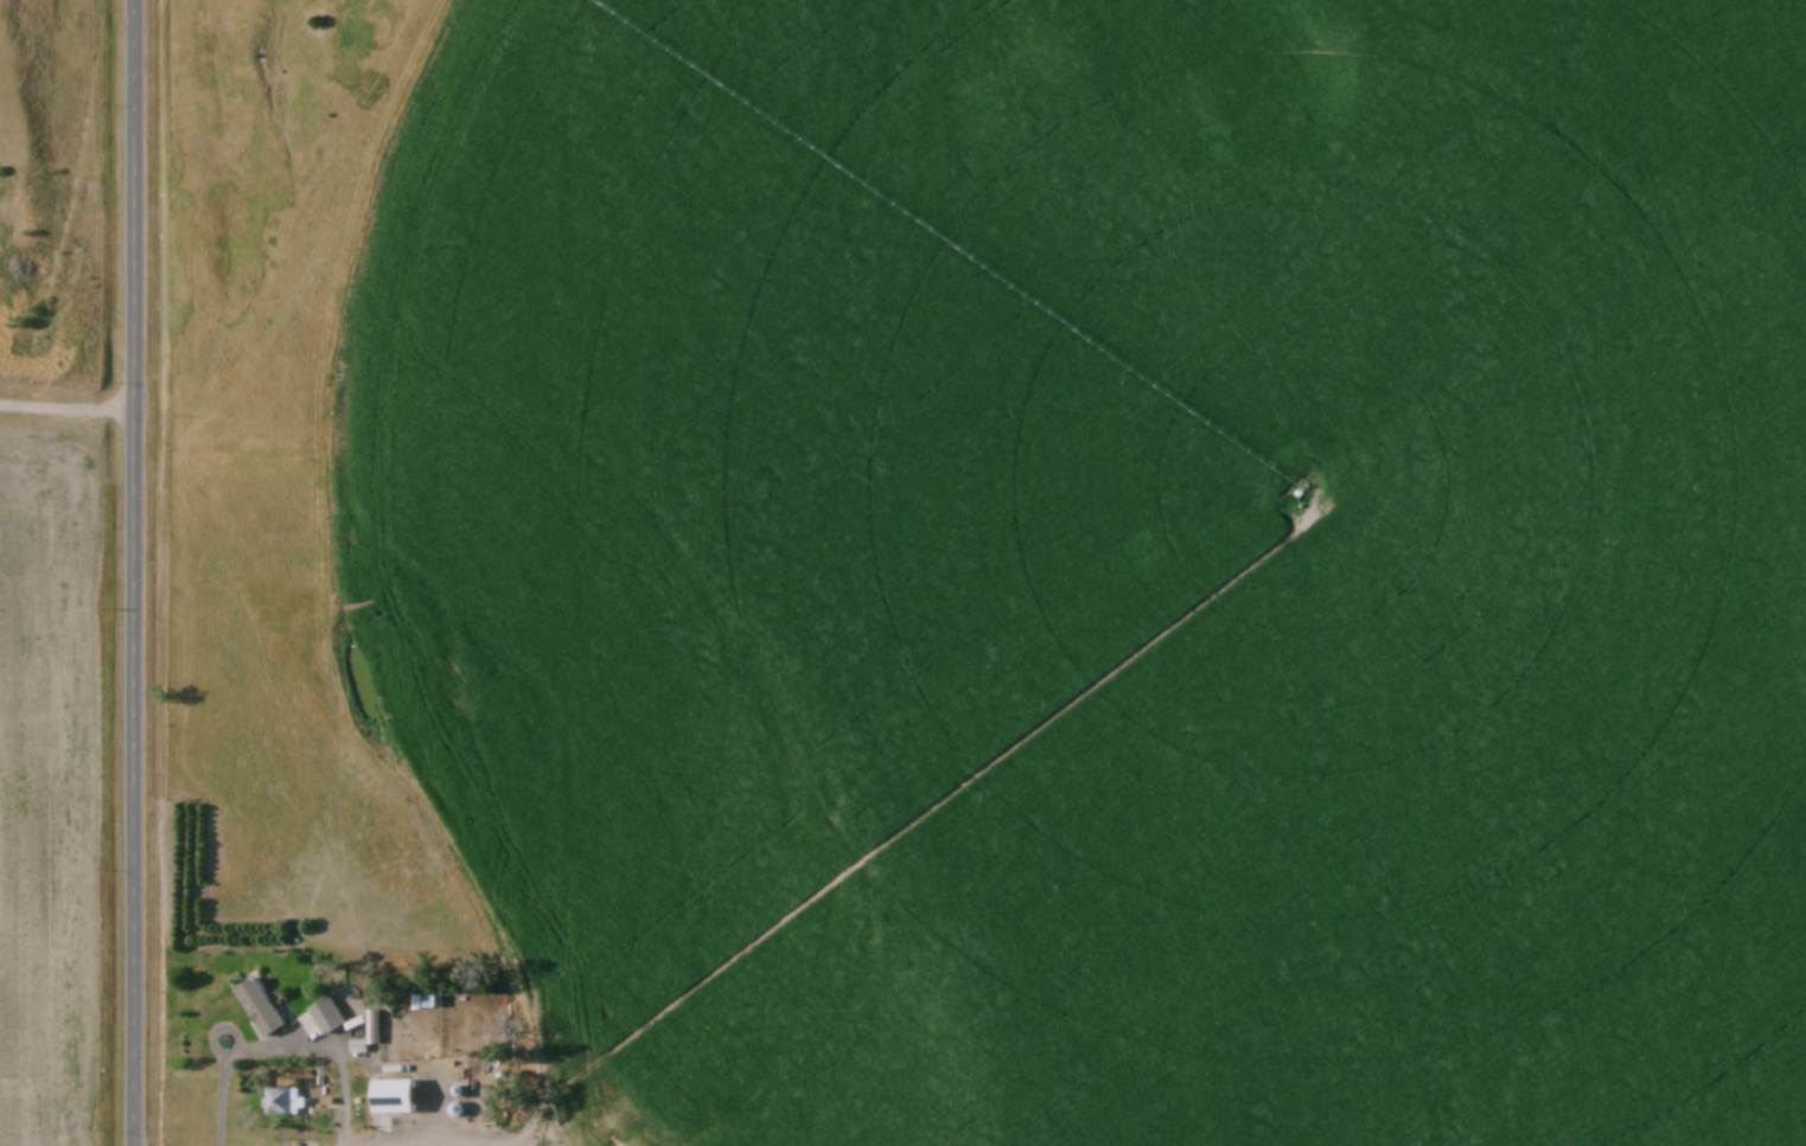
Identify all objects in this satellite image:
road: (136, 572)
building: (267, 1009)
building: (332, 1018)
road: (228, 1074)
building: (402, 1097)
building: (286, 1102)

